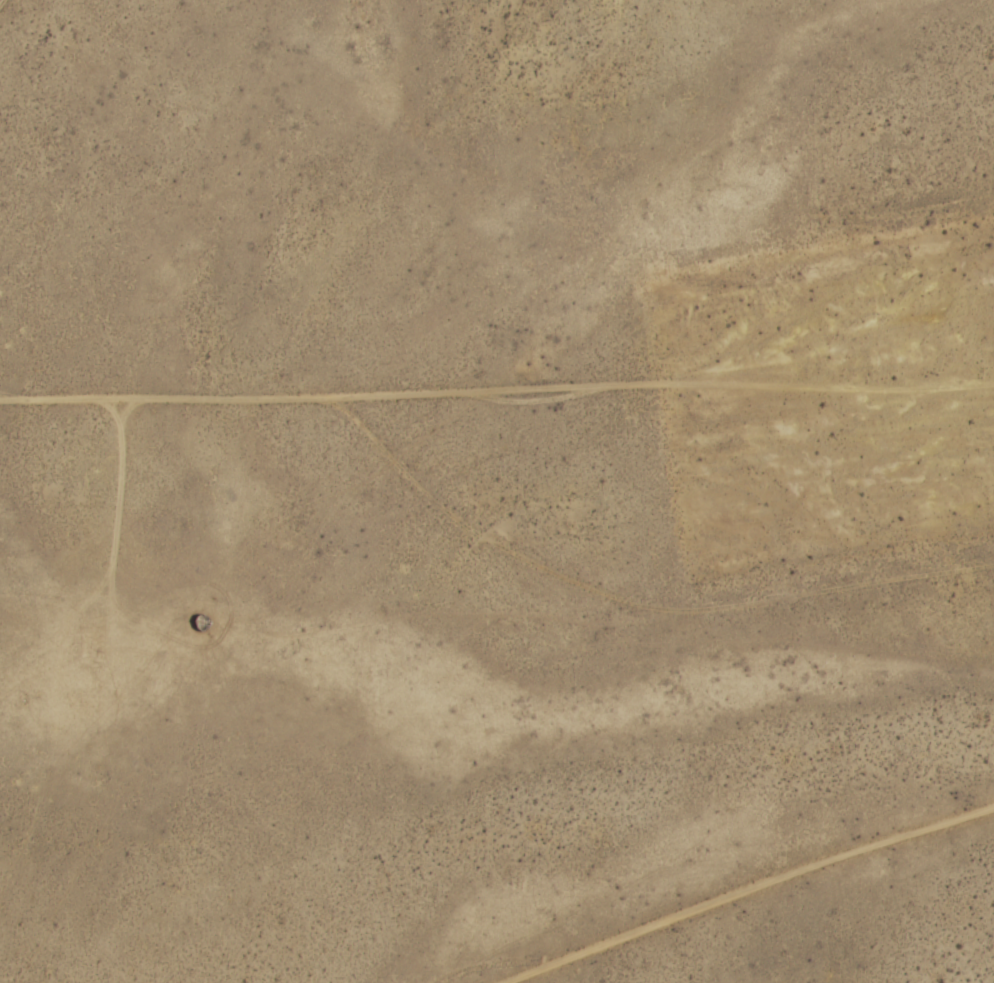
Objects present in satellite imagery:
road: (497, 567)

